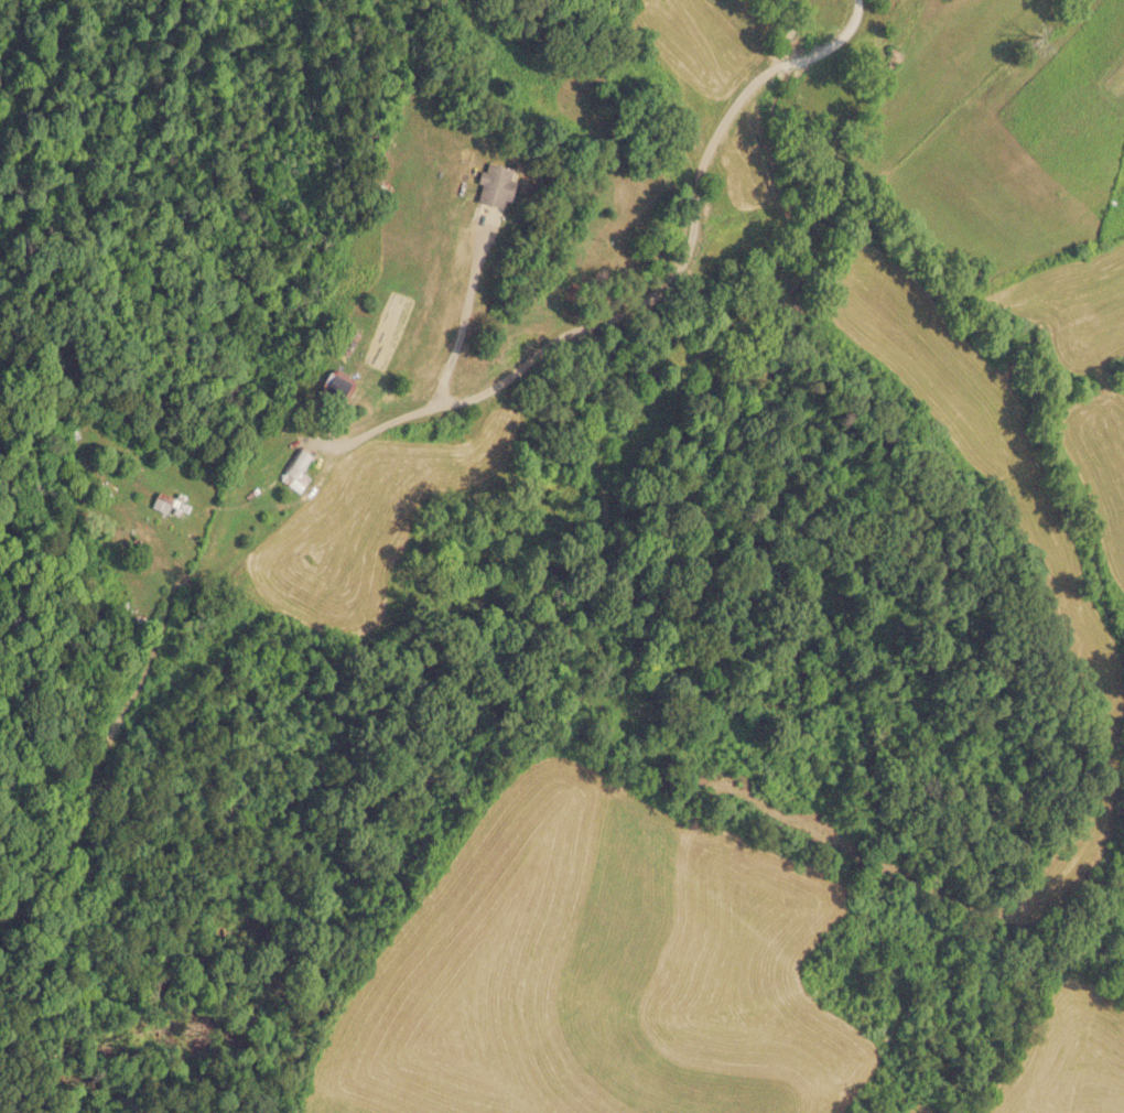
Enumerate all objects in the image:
building: (491, 185)
building: (293, 472)
building: (161, 503)
road: (71, 917)

